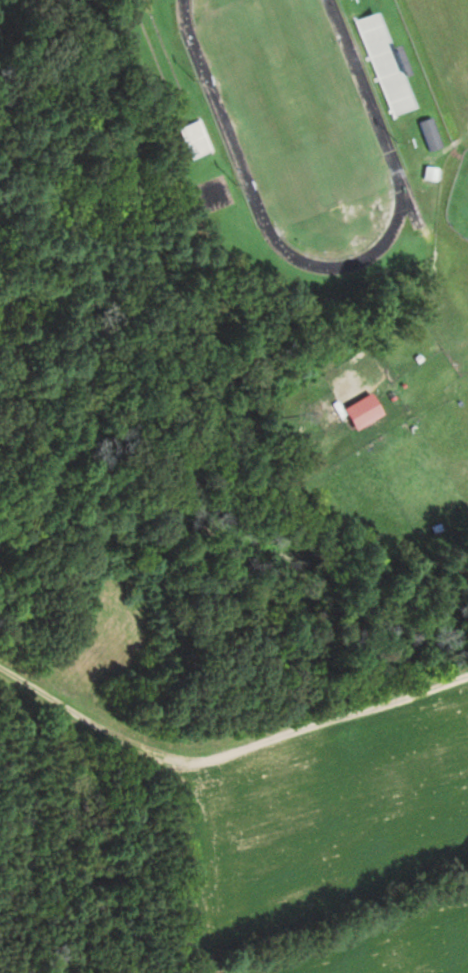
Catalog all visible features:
building: (383, 62)
building: (430, 133)
building: (193, 138)
building: (402, 356)

